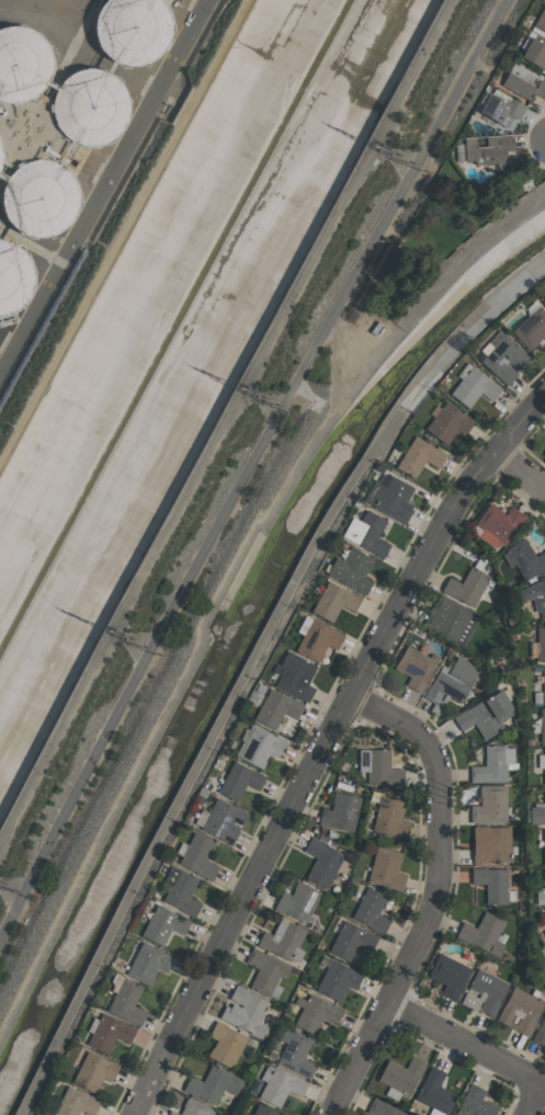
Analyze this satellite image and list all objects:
building: (541, 21)
building: (133, 30)
storage tank: (133, 30)
building: (534, 54)
building: (22, 64)
storage tank: (22, 64)
building: (523, 81)
building: (91, 107)
storage tank: (91, 107)
building: (501, 110)
power tower: (375, 145)
building: (489, 149)
wastewater plant: (79, 150)
road: (103, 184)
building: (41, 196)
storage tank: (41, 196)
road: (123, 229)
road: (394, 230)
building: (13, 277)
storage tank: (13, 277)
building: (544, 298)
river: (178, 325)
building: (531, 328)
building: (503, 357)
power tower: (241, 387)
building: (473, 387)
building: (447, 422)
building: (544, 452)
building: (544, 453)
building: (419, 456)
road: (250, 470)
road: (520, 473)
building: (390, 498)
building: (498, 524)
building: (366, 533)
building: (524, 559)
building: (352, 570)
building: (466, 587)
building: (534, 595)
building: (334, 601)
building: (450, 621)
power tower: (110, 630)
building: (318, 639)
building: (541, 645)
building: (415, 668)
building: (295, 675)
building: (450, 684)
building: (544, 685)
building: (276, 708)
building: (486, 714)
building: (542, 725)
building: (261, 747)
road: (326, 749)
building: (493, 764)
building: (544, 766)
building: (379, 767)
building: (239, 781)
building: (490, 805)
building: (340, 812)
building: (537, 814)
building: (389, 818)
building: (223, 820)
building: (490, 844)
building: (544, 847)
building: (198, 856)
building: (322, 862)
building: (386, 869)
building: (492, 884)
building: (544, 888)
building: (181, 891)
road: (434, 896)
building: (297, 901)
building: (371, 911)
building: (163, 924)
building: (544, 932)
building: (484, 934)
building: (283, 941)
building: (351, 941)
building: (149, 963)
building: (265, 972)
building: (449, 976)
building: (337, 980)
building: (484, 992)
building: (126, 1002)
building: (520, 1010)
building: (246, 1011)
building: (315, 1013)
building: (540, 1033)
building: (109, 1034)
building: (225, 1045)
road: (465, 1051)
building: (296, 1053)
building: (93, 1071)
building: (401, 1074)
building: (212, 1084)
building: (280, 1085)
building: (435, 1092)
road: (534, 1102)
building: (76, 1103)
building: (475, 1103)
building: (192, 1108)
building: (383, 1108)
building: (263, 1111)

